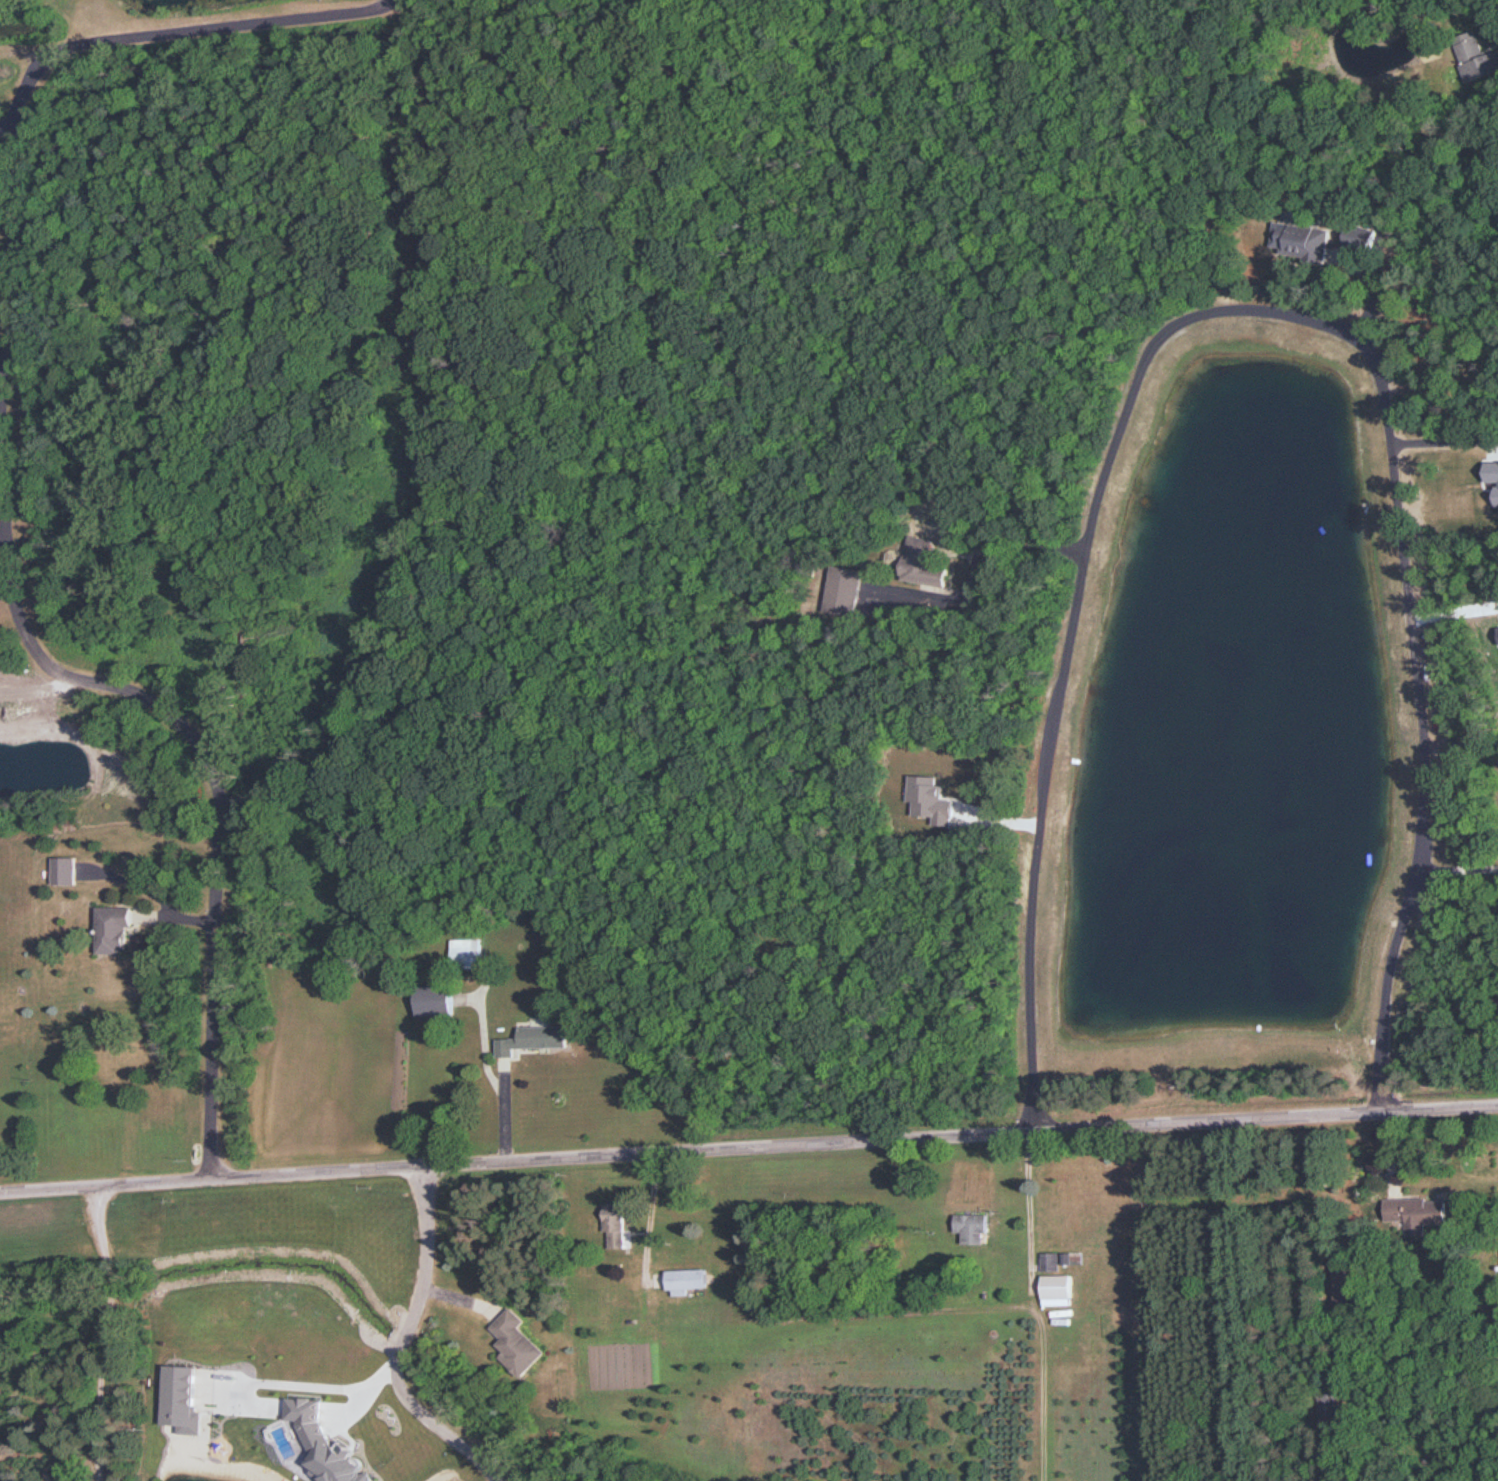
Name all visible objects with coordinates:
building: (1472, 56)
building: (1301, 240)
road: (1442, 440)
road: (4, 501)
building: (924, 562)
building: (844, 590)
road: (1408, 667)
road: (1063, 678)
road: (1453, 869)
building: (65, 870)
building: (114, 929)
building: (467, 953)
building: (436, 1001)
building: (533, 1040)
road: (748, 1147)
building: (1418, 1213)
building: (615, 1223)
building: (972, 1227)
building: (1050, 1261)
building: (686, 1279)
building: (1058, 1286)
road: (103, 1332)
building: (516, 1343)
road: (396, 1344)
road: (311, 1384)

